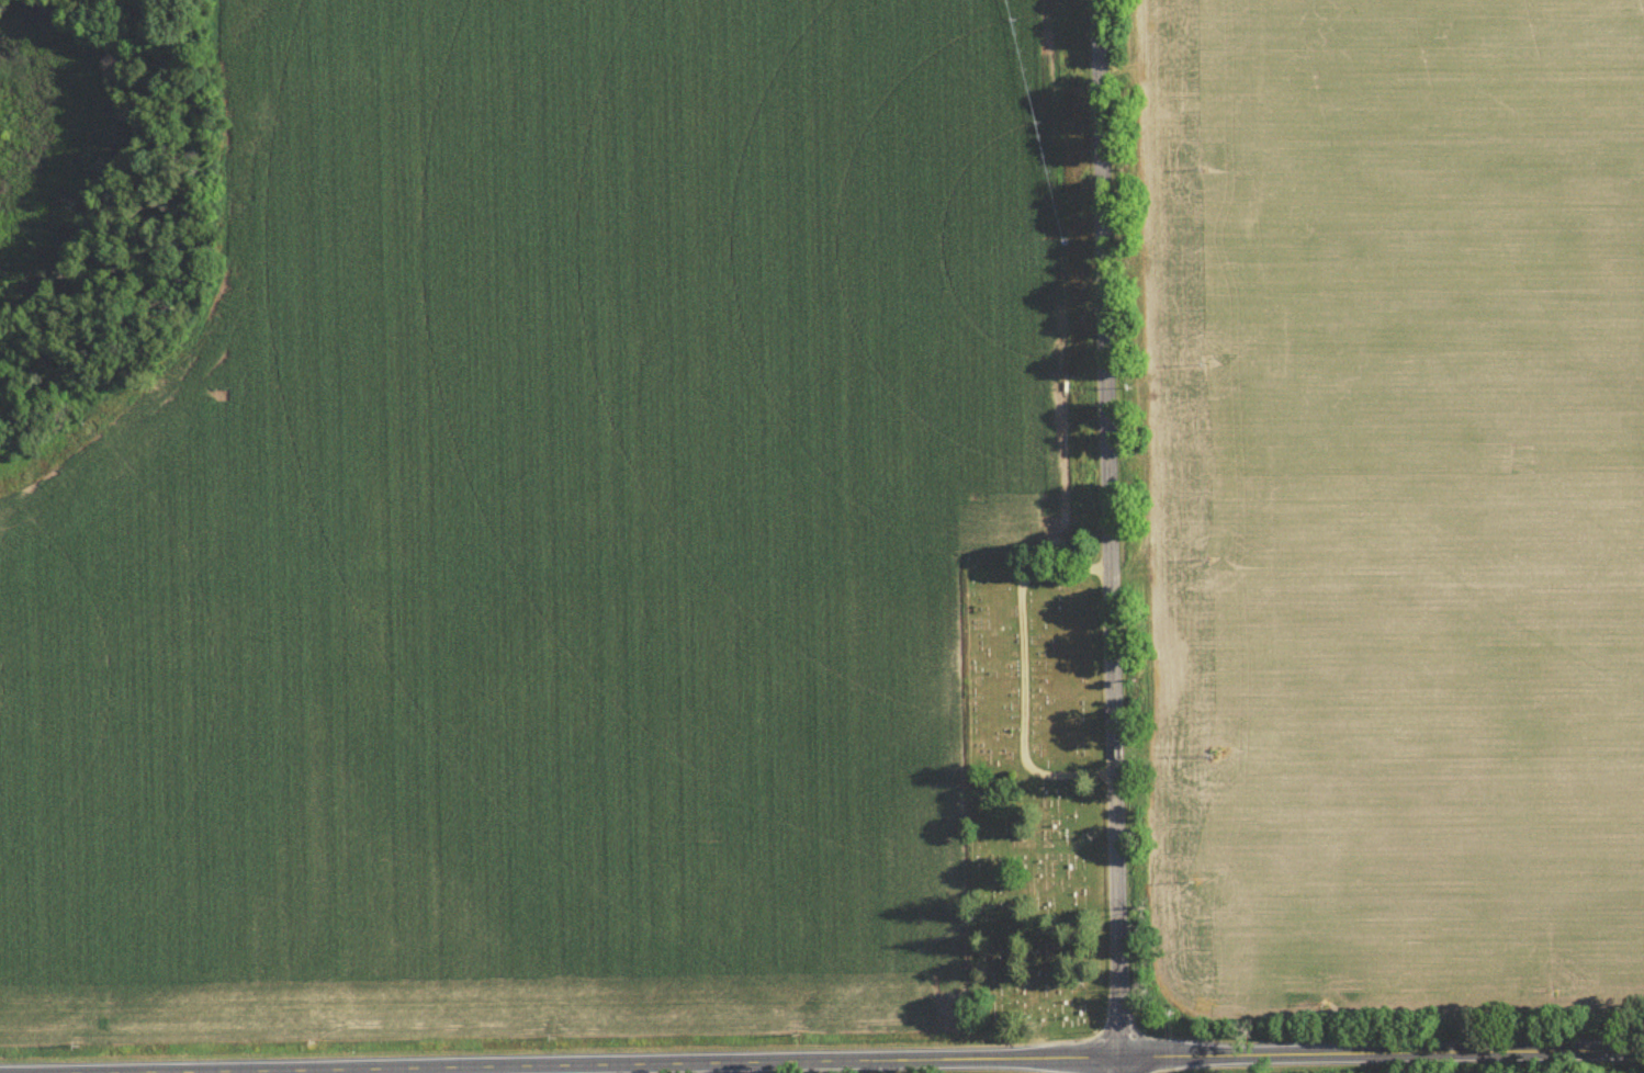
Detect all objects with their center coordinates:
road: (1112, 527)
park: (1033, 799)
road: (840, 1059)
road: (1124, 1063)

